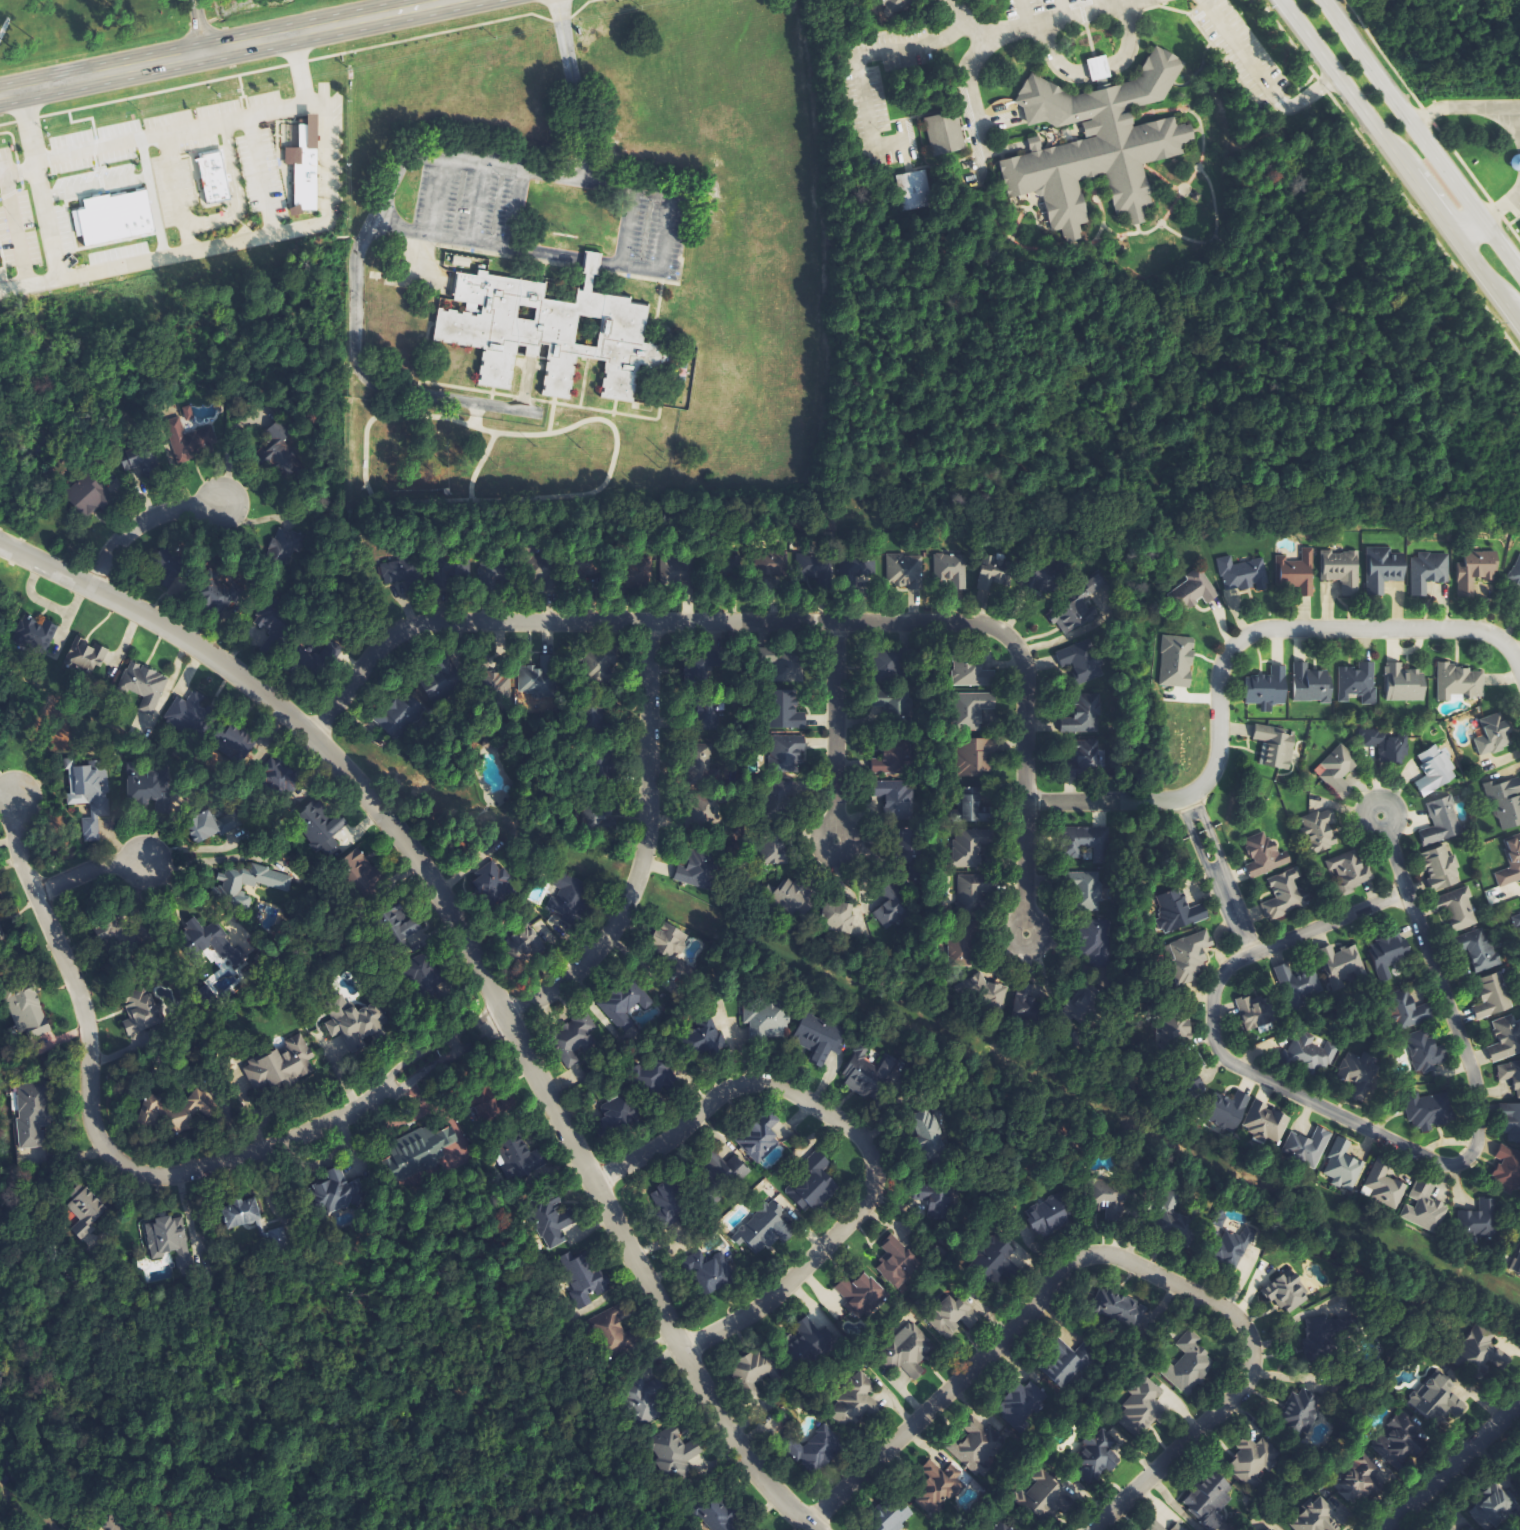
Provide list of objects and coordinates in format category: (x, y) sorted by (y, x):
building: (895, 6)
road: (1032, 22)
road: (198, 26)
road: (1284, 39)
road: (226, 48)
road: (853, 59)
road: (296, 61)
building: (1099, 68)
road: (1262, 76)
road: (239, 83)
road: (971, 88)
road: (573, 89)
road: (1509, 107)
road: (1452, 108)
road: (1399, 109)
traffic signals: (1360, 111)
road: (1365, 118)
road: (82, 119)
road: (1510, 120)
road: (1430, 123)
building: (945, 133)
road: (164, 136)
road: (12, 142)
building: (1093, 143)
road: (435, 158)
building: (1513, 162)
building: (305, 165)
road: (16, 172)
road: (260, 177)
building: (214, 178)
building: (913, 190)
road: (232, 192)
road: (176, 194)
road: (434, 197)
parking lot: (471, 198)
road: (475, 203)
road: (1501, 204)
road: (515, 209)
building: (114, 218)
road: (1511, 218)
parking lot: (653, 227)
road: (1466, 229)
road: (13, 231)
road: (665, 234)
road: (258, 238)
road: (1499, 248)
road: (50, 252)
road: (585, 261)
building: (462, 262)
road: (1486, 284)
building: (541, 331)
road: (419, 369)
road: (582, 381)
road: (368, 382)
road: (525, 386)
road: (465, 387)
road: (490, 396)
road: (521, 397)
road: (613, 406)
road: (600, 409)
road: (550, 413)
building: (188, 440)
building: (280, 451)
building: (129, 459)
building: (88, 496)
road: (138, 523)
building: (288, 543)
building: (538, 568)
building: (903, 569)
building: (951, 570)
building: (1341, 570)
building: (1383, 570)
building: (1475, 570)
building: (660, 571)
building: (993, 572)
building: (1428, 572)
building: (1298, 573)
building: (1515, 573)
building: (1244, 574)
building: (396, 579)
building: (1041, 580)
building: (221, 590)
building: (1194, 591)
building: (1079, 610)
building: (266, 623)
road: (777, 623)
building: (36, 634)
road: (1227, 650)
building: (86, 659)
building: (1177, 662)
building: (1079, 663)
building: (780, 665)
building: (887, 667)
building: (599, 672)
building: (971, 674)
building: (536, 682)
building: (1358, 683)
building: (1460, 683)
building: (1404, 684)
building: (440, 685)
building: (1311, 685)
building: (146, 687)
building: (1268, 689)
building: (971, 710)
building: (785, 711)
building: (1085, 715)
building: (708, 720)
road: (833, 724)
building: (1493, 736)
building: (1385, 745)
building: (1275, 748)
building: (482, 749)
building: (786, 753)
building: (974, 759)
building: (1090, 759)
building: (892, 761)
building: (698, 768)
building: (1338, 771)
building: (1435, 771)
building: (283, 778)
building: (149, 791)
building: (785, 794)
building: (88, 798)
building: (894, 799)
building: (1505, 802)
road: (1365, 803)
road: (1186, 805)
building: (971, 806)
building: (701, 813)
road: (1199, 818)
road: (1185, 823)
building: (1441, 823)
building: (209, 827)
road: (821, 827)
building: (320, 828)
building: (1320, 832)
building: (1086, 844)
building: (969, 847)
road: (641, 850)
building: (774, 851)
road: (1215, 852)
building: (1263, 855)
road: (1199, 858)
building: (1510, 862)
building: (1440, 869)
road: (84, 870)
building: (361, 871)
building: (694, 872)
building: (1349, 872)
building: (247, 883)
building: (1087, 892)
building: (970, 893)
building: (1284, 895)
building: (794, 899)
building: (567, 907)
building: (888, 908)
building: (1458, 908)
building: (1178, 913)
building: (840, 919)
building: (1516, 920)
road: (1013, 922)
building: (268, 926)
building: (1, 935)
building: (211, 941)
building: (668, 941)
road: (1284, 941)
building: (529, 943)
building: (401, 945)
building: (1098, 945)
building: (959, 949)
building: (1479, 951)
building: (1388, 953)
building: (1189, 957)
building: (1338, 965)
road: (475, 971)
building: (1297, 984)
building: (1492, 997)
building: (1004, 998)
building: (622, 1008)
building: (1406, 1011)
building: (25, 1013)
building: (1252, 1015)
building: (142, 1018)
road: (492, 1021)
building: (766, 1021)
building: (353, 1023)
road: (455, 1033)
building: (819, 1038)
building: (576, 1039)
building: (1505, 1039)
building: (706, 1043)
road: (464, 1047)
building: (1424, 1050)
building: (1312, 1053)
building: (282, 1065)
road: (396, 1069)
building: (866, 1075)
building: (1510, 1075)
road: (406, 1083)
road: (91, 1111)
building: (150, 1111)
building: (191, 1111)
building: (1229, 1112)
building: (615, 1114)
building: (1432, 1114)
building: (32, 1115)
building: (1513, 1123)
building: (1266, 1124)
building: (926, 1135)
road: (854, 1136)
building: (760, 1140)
building: (1308, 1146)
building: (420, 1150)
building: (517, 1159)
building: (1344, 1165)
road: (1443, 1165)
building: (1508, 1168)
building: (814, 1184)
building: (1384, 1184)
building: (337, 1192)
building: (1169, 1198)
building: (667, 1201)
building: (1424, 1207)
building: (85, 1210)
building: (241, 1211)
building: (1220, 1217)
building: (1479, 1220)
building: (552, 1221)
building: (1045, 1222)
building: (1182, 1223)
building: (763, 1229)
building: (1234, 1247)
road: (1112, 1257)
building: (897, 1261)
building: (1002, 1262)
building: (1516, 1264)
building: (708, 1272)
building: (581, 1277)
building: (1286, 1292)
building: (860, 1294)
building: (1120, 1309)
building: (956, 1314)
building: (610, 1332)
building: (1315, 1334)
building: (809, 1340)
building: (909, 1347)
building: (1481, 1348)
building: (1066, 1362)
building: (1187, 1364)
building: (755, 1370)
building: (644, 1400)
building: (1022, 1405)
building: (1302, 1407)
building: (1141, 1408)
building: (835, 1424)
building: (1402, 1435)
building: (977, 1446)
building: (672, 1452)
building: (1097, 1455)
building: (1252, 1462)
road: (1451, 1464)
building: (940, 1482)
building: (1045, 1497)
building: (1209, 1498)
building: (1493, 1507)
building: (720, 1515)
building: (1315, 1517)
building: (898, 1519)
building: (108, 1525)

